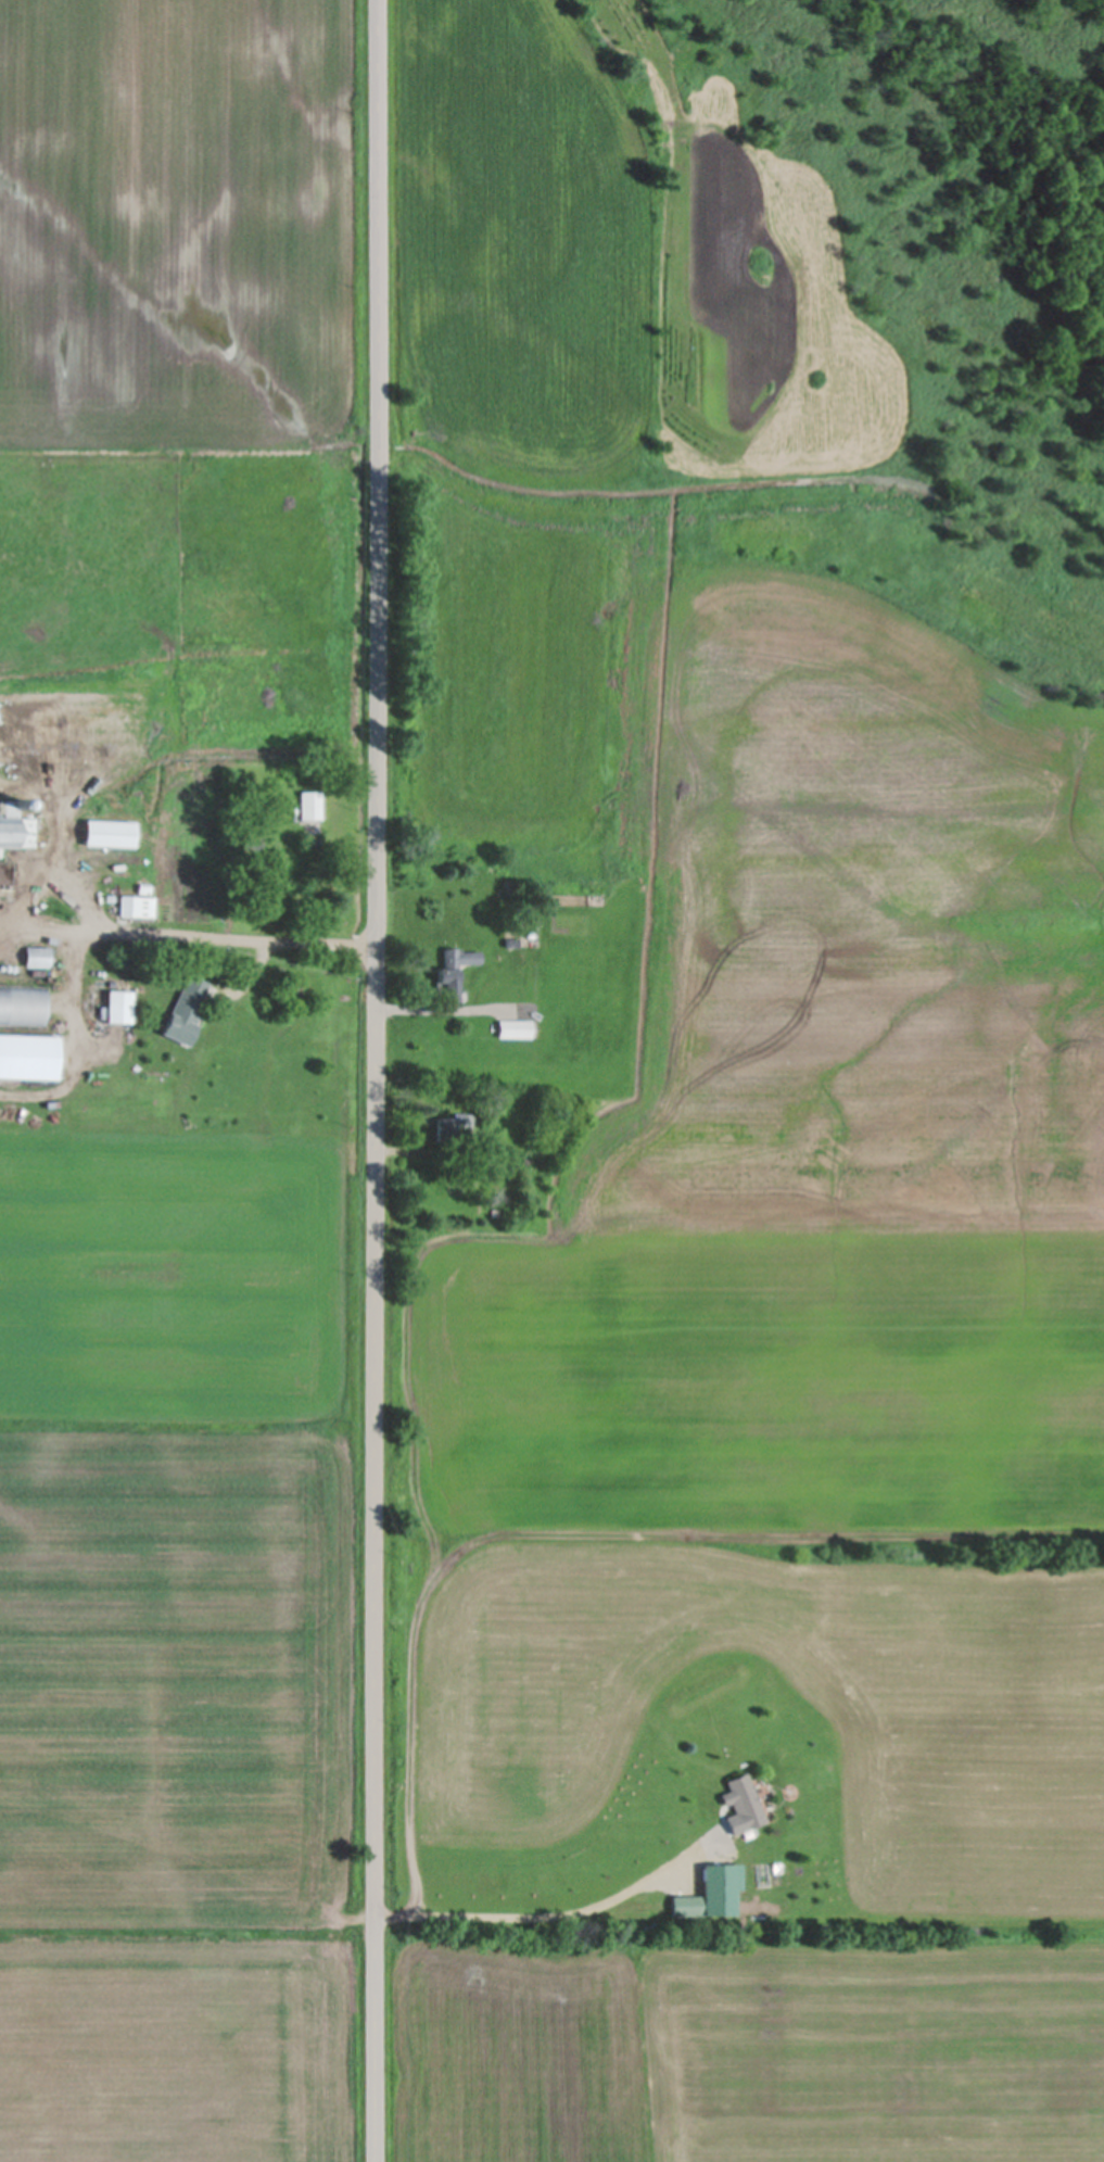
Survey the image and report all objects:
building: (72, 721)
building: (309, 807)
building: (16, 833)
building: (107, 835)
building: (136, 907)
road: (190, 936)
building: (35, 958)
building: (453, 966)
building: (22, 1008)
building: (116, 1008)
building: (186, 1011)
road: (451, 1019)
building: (512, 1029)
road: (372, 1080)
building: (448, 1130)
building: (740, 1801)
building: (686, 1907)
road: (557, 1918)

